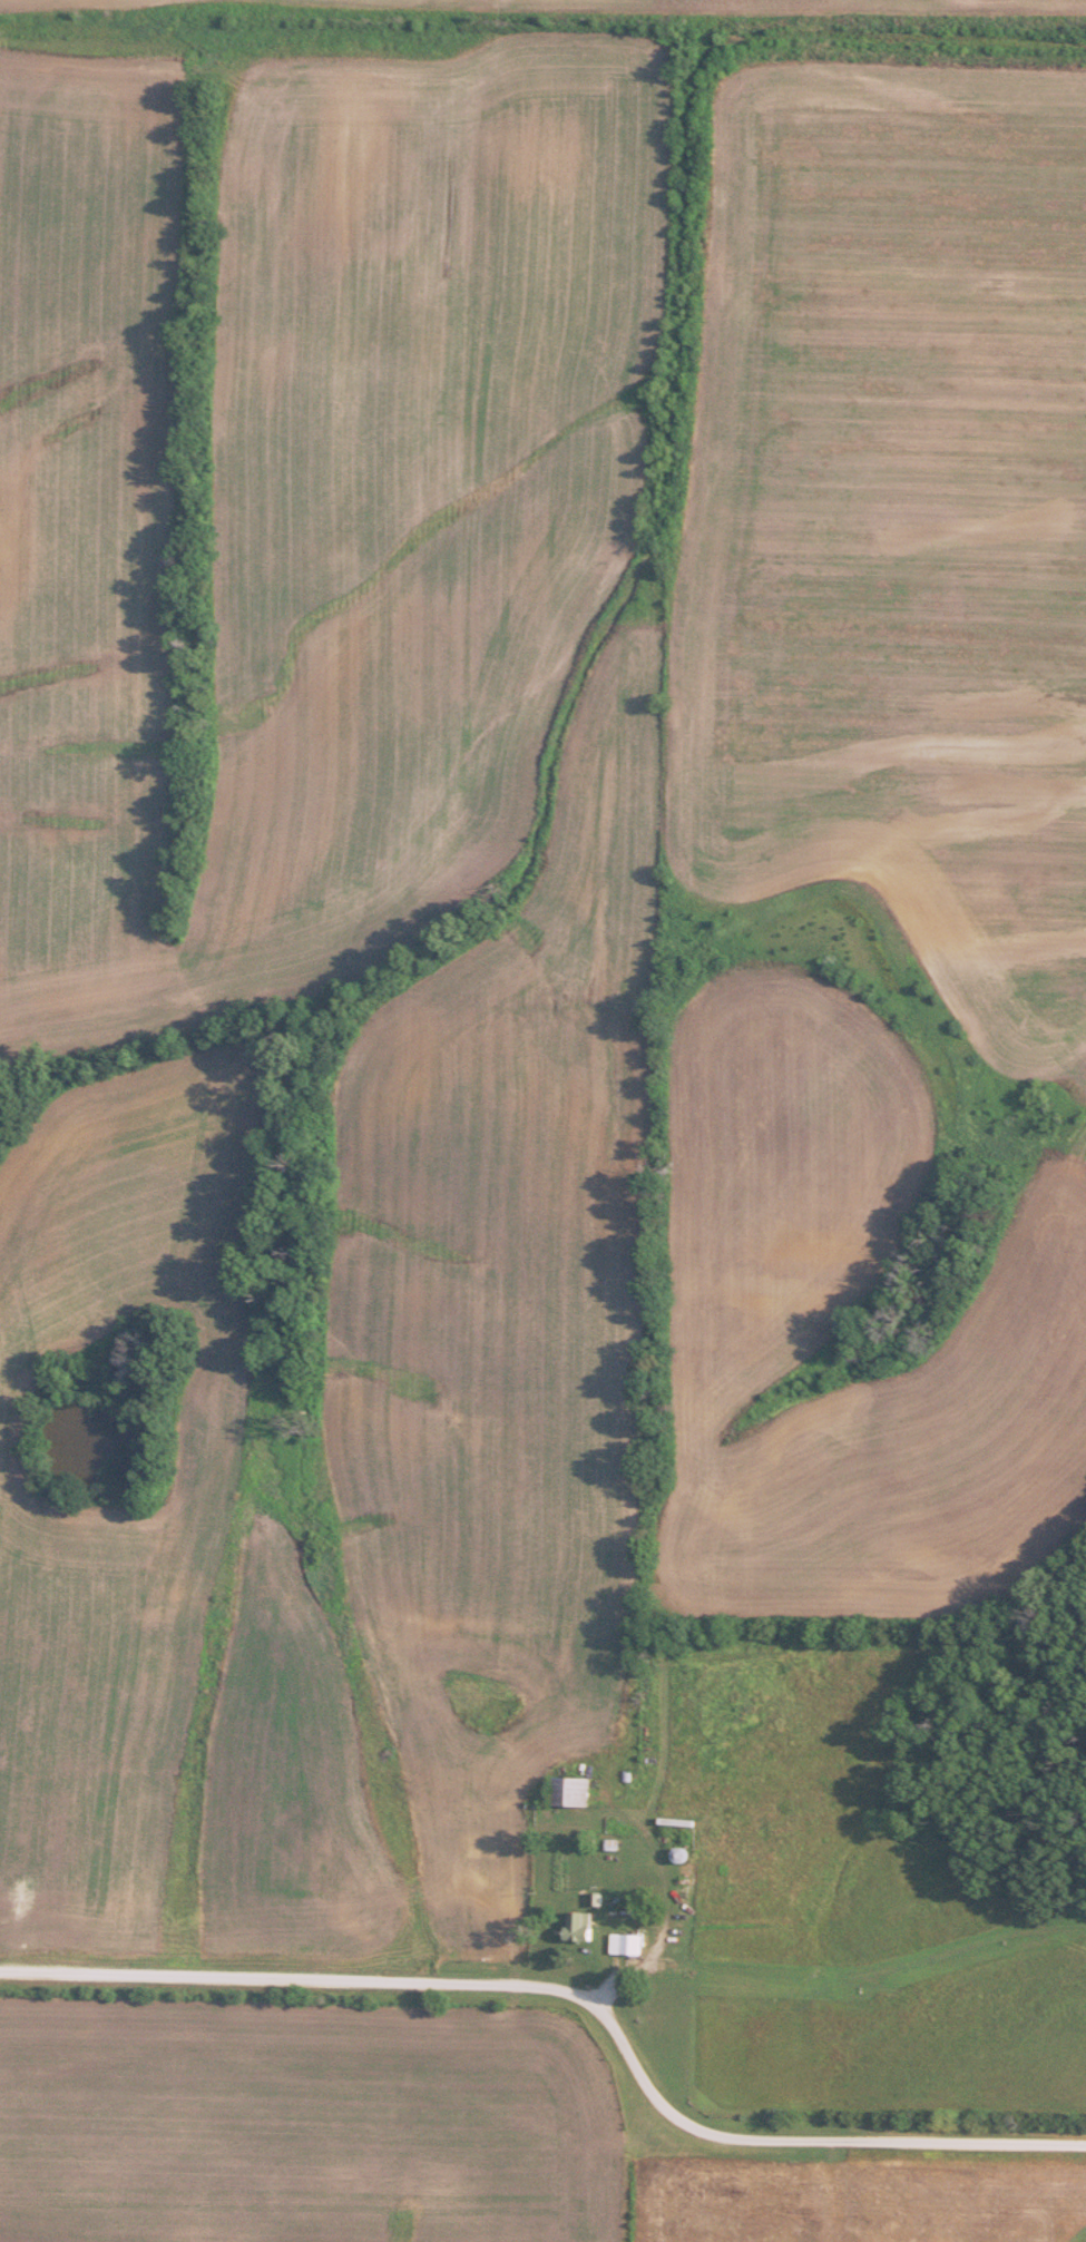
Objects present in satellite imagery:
building: (570, 1791)
building: (683, 1856)
building: (580, 1926)
building: (627, 1944)
road: (301, 1979)
road: (828, 2105)

